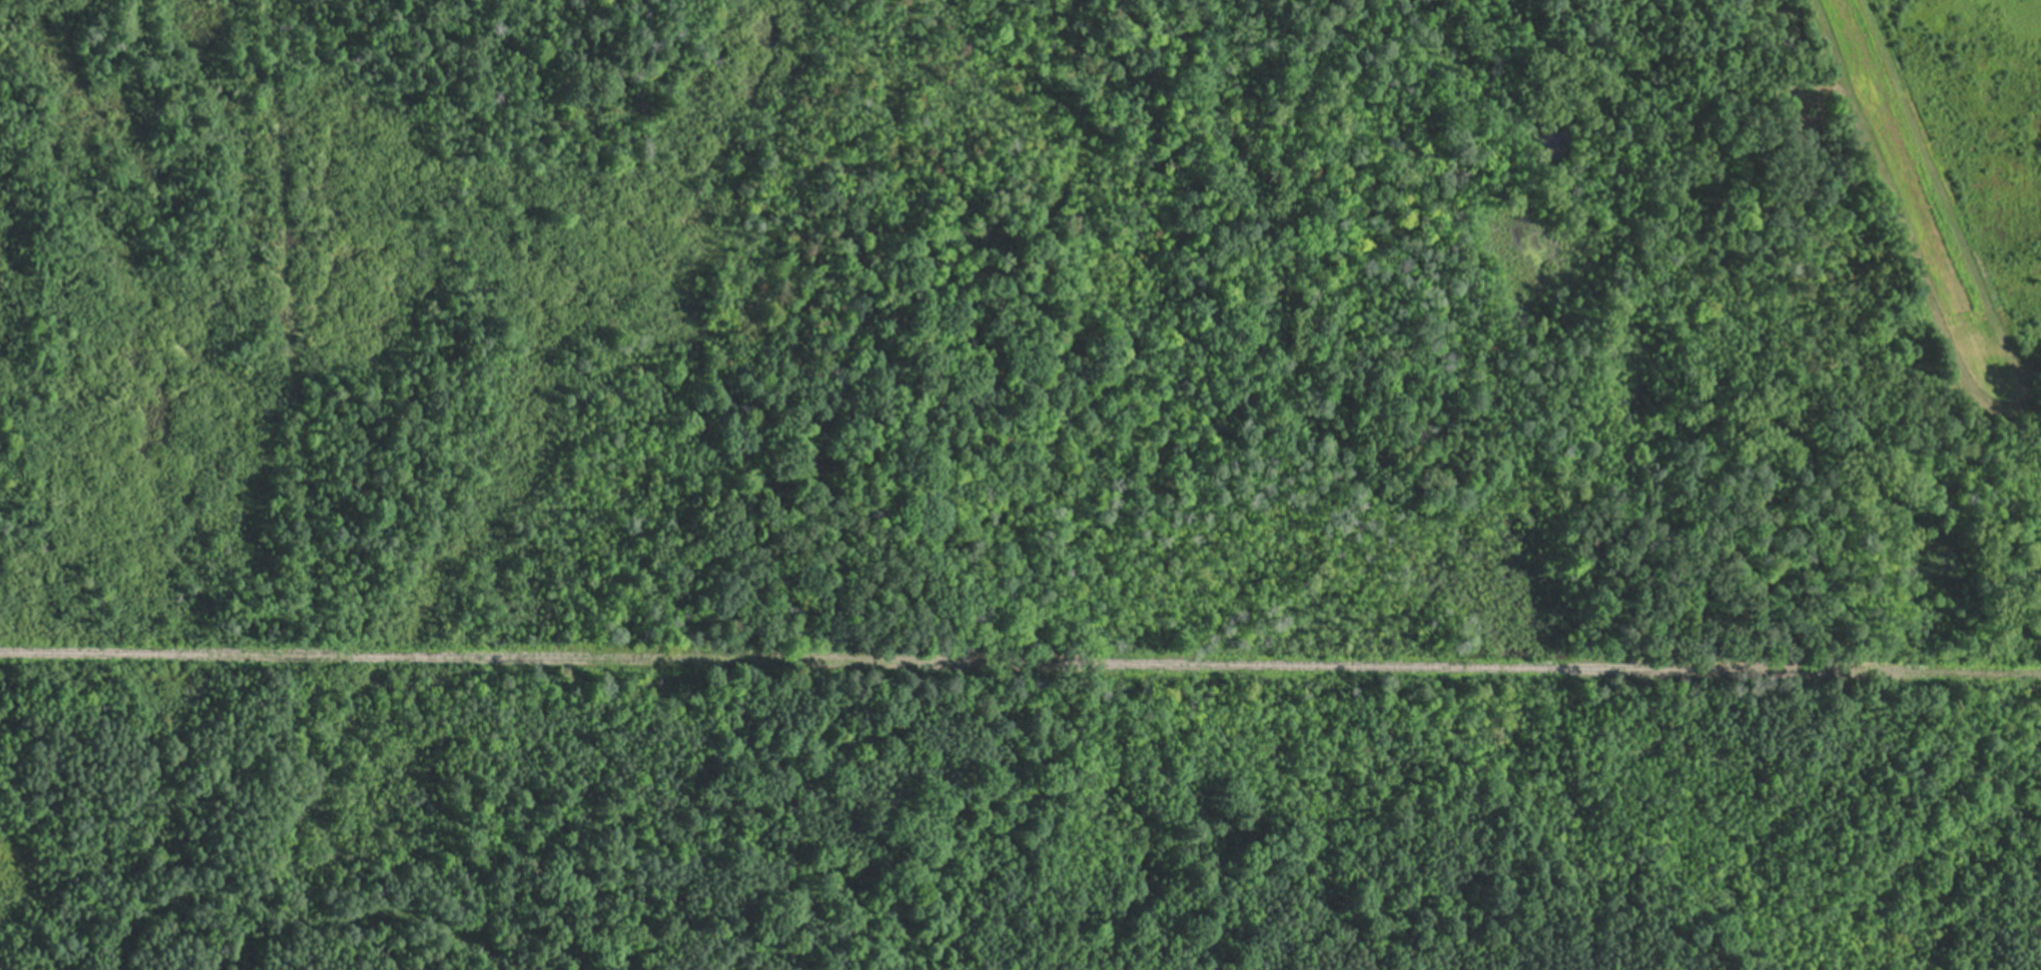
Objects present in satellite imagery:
airport runway: (1911, 193)
railway: (1020, 661)

